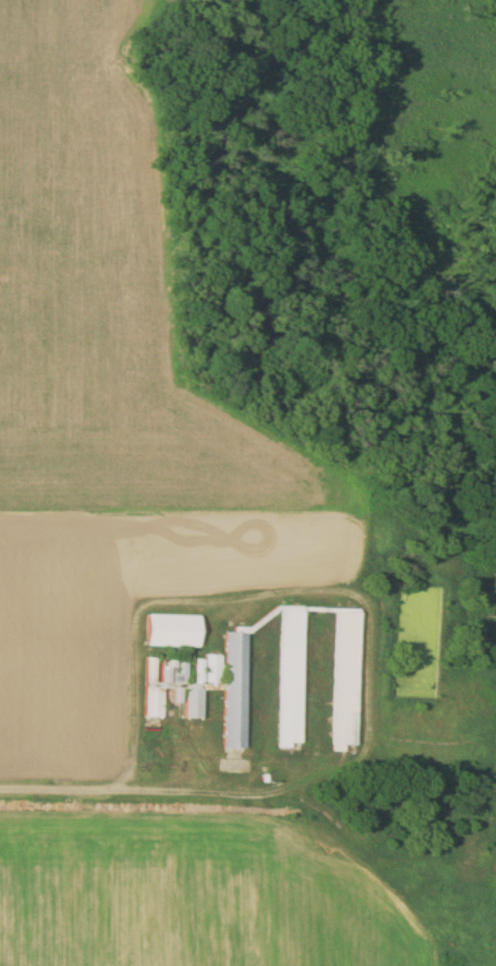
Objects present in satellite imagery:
road: (362, 598)
building: (173, 631)
building: (290, 678)
building: (345, 681)
building: (162, 682)
building: (202, 685)
road: (65, 781)

